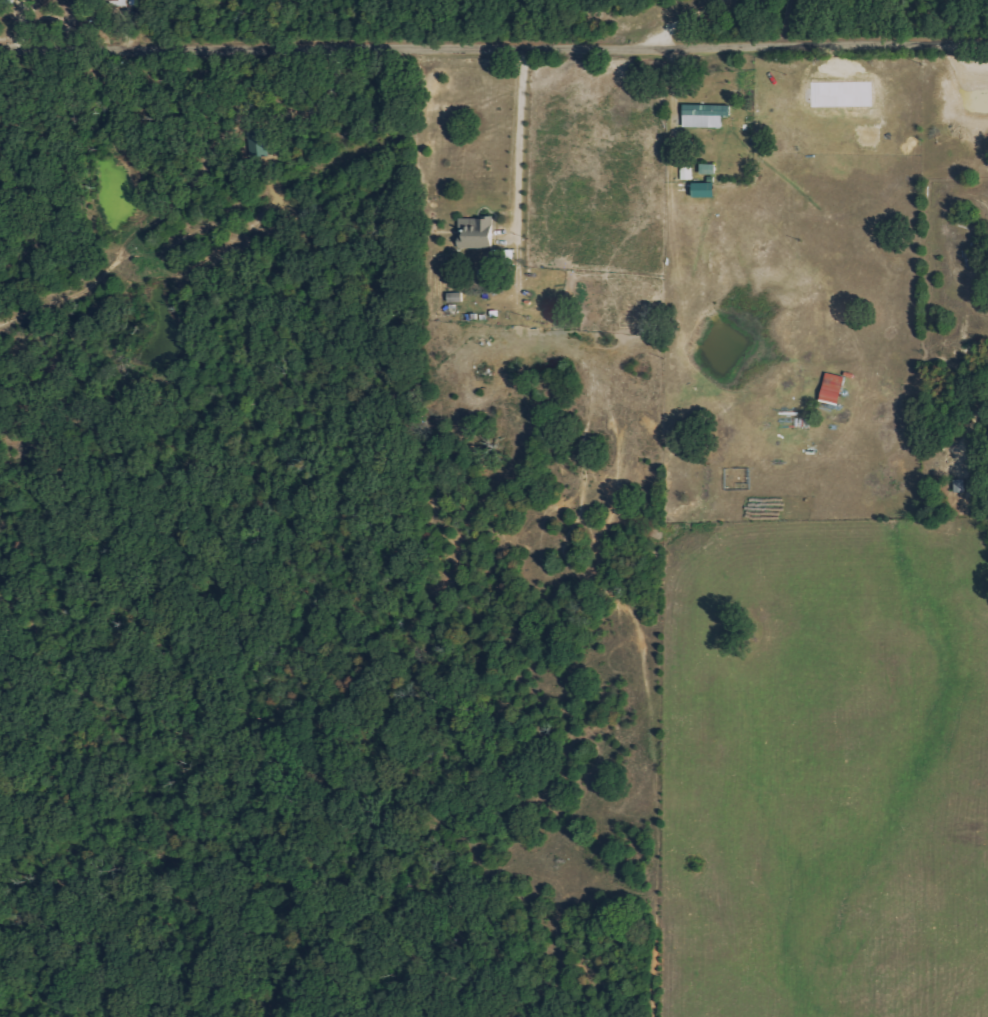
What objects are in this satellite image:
building: (115, 0)
building: (7, 1)
road: (691, 18)
road: (494, 48)
building: (706, 115)
road: (523, 139)
building: (259, 143)
building: (710, 169)
building: (705, 190)
building: (478, 233)
building: (834, 388)

